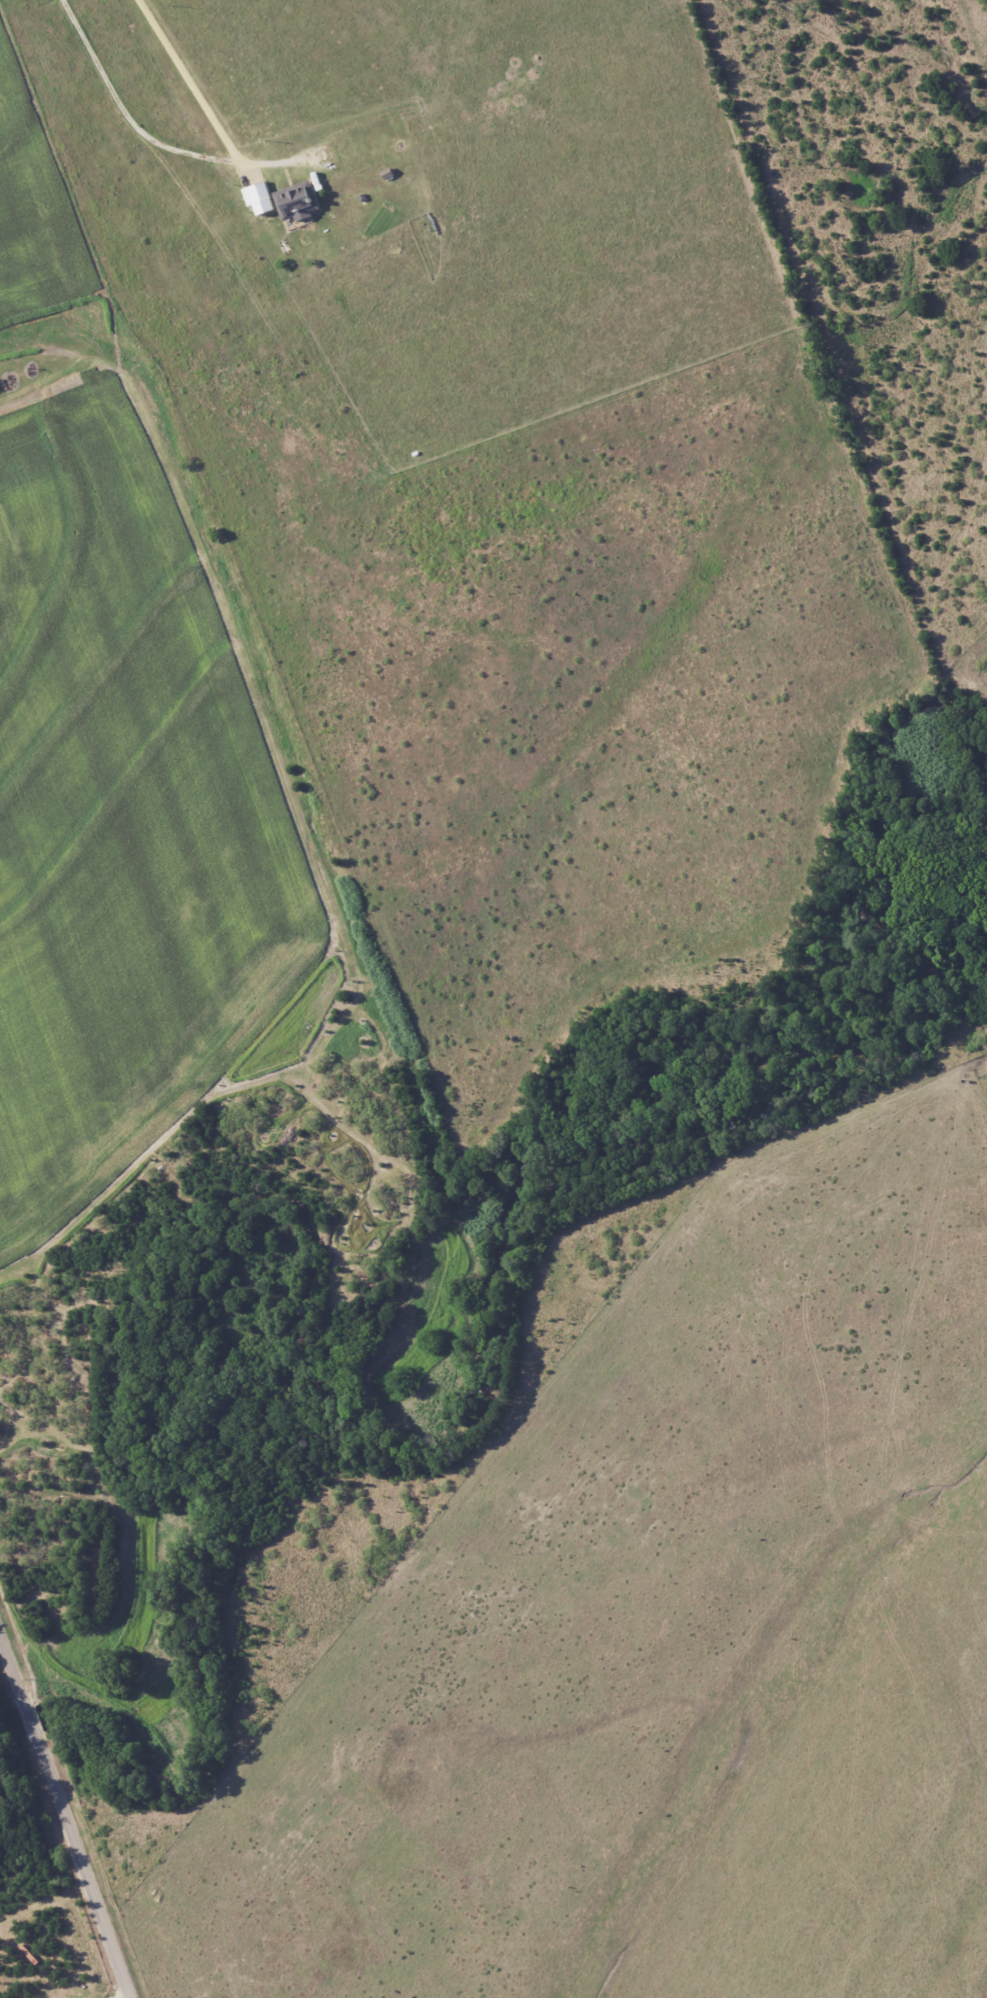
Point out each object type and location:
road: (190, 80)
road: (150, 140)
building: (259, 197)
building: (297, 201)
road: (65, 1816)

